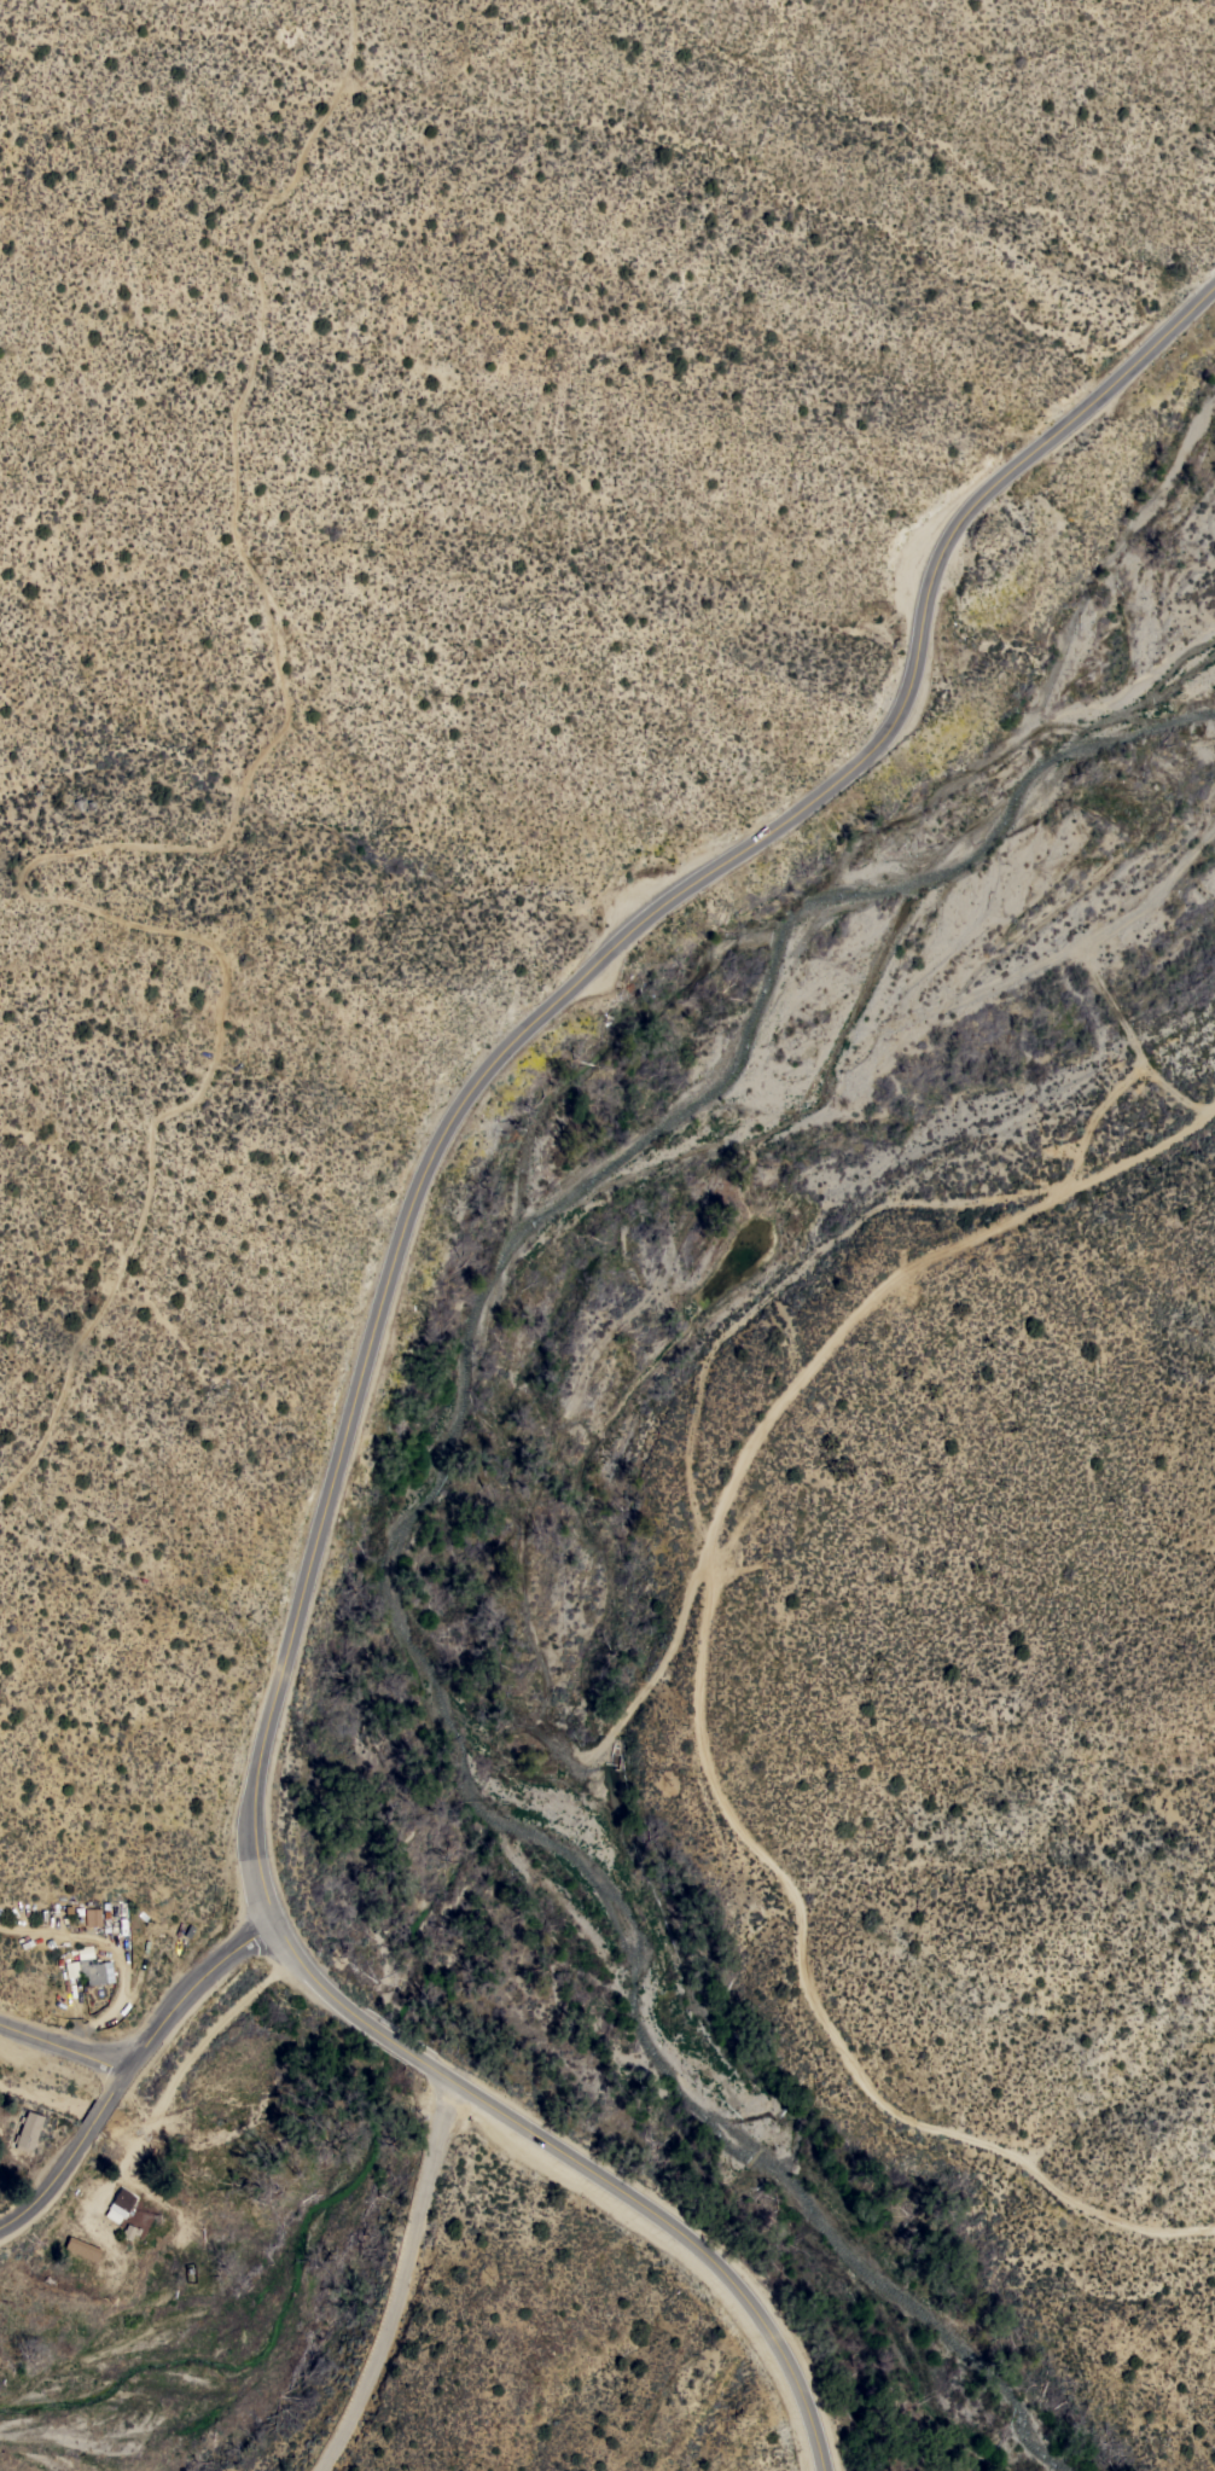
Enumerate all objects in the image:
road: (377, 1343)
road: (669, 1664)
road: (704, 1692)
building: (105, 1915)
building: (93, 1917)
building: (88, 1966)
road: (196, 1983)
road: (65, 2046)
building: (28, 2130)
road: (76, 2157)
building: (122, 2199)
building: (130, 2232)
building: (82, 2248)
road: (405, 2273)

